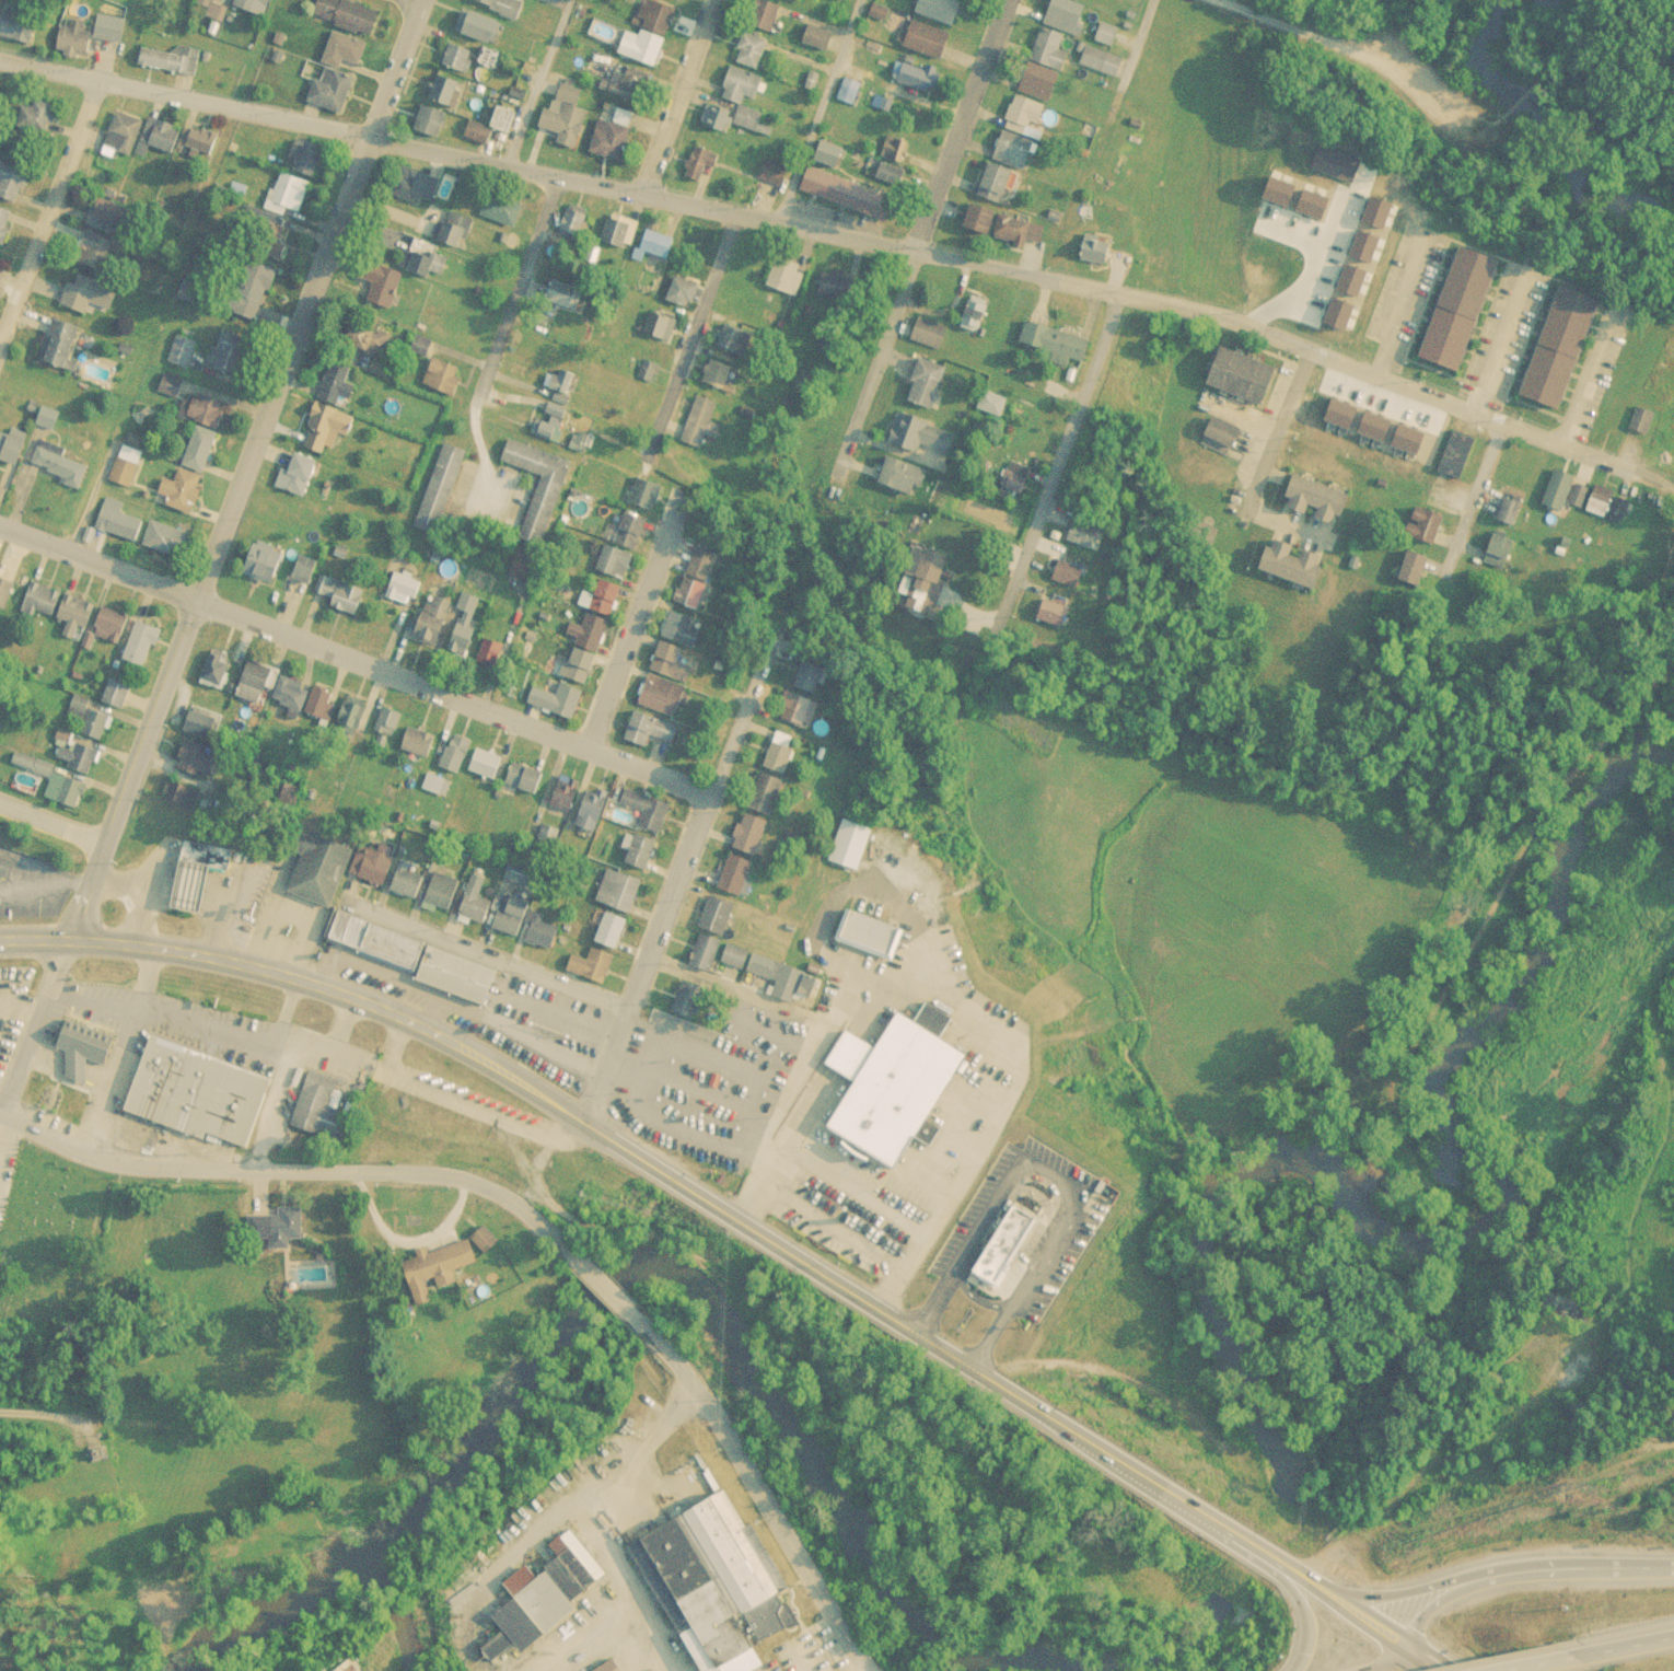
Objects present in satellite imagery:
road: (567, 0)
building: (671, 0)
building: (213, 4)
building: (249, 4)
building: (500, 5)
building: (938, 10)
building: (346, 14)
building: (764, 15)
building: (1063, 16)
road: (162, 21)
building: (19, 26)
building: (477, 27)
building: (648, 34)
building: (818, 38)
building: (74, 39)
building: (926, 40)
road: (1136, 42)
building: (342, 50)
building: (1047, 50)
road: (254, 51)
building: (751, 51)
building: (457, 59)
building: (170, 61)
building: (1101, 62)
building: (917, 76)
road: (121, 81)
road: (539, 81)
building: (627, 86)
building: (742, 86)
building: (330, 92)
building: (847, 92)
road: (905, 92)
building: (445, 93)
road: (673, 95)
building: (1031, 98)
building: (880, 105)
road: (821, 109)
building: (35, 117)
building: (565, 117)
building: (717, 118)
building: (748, 121)
building: (431, 124)
building: (490, 127)
building: (123, 135)
building: (158, 138)
building: (200, 141)
building: (608, 141)
building: (1011, 151)
building: (828, 156)
building: (306, 160)
building: (701, 164)
building: (1338, 166)
building: (772, 174)
building: (891, 176)
building: (993, 183)
building: (12, 185)
building: (286, 195)
building: (848, 197)
building: (500, 211)
building: (113, 214)
building: (980, 220)
road: (54, 221)
building: (265, 223)
building: (572, 224)
building: (4, 225)
building: (451, 230)
building: (1020, 231)
building: (619, 232)
road: (928, 239)
building: (1094, 251)
building: (94, 252)
building: (423, 260)
road: (951, 260)
building: (653, 262)
building: (784, 276)
building: (377, 283)
building: (838, 290)
building: (254, 292)
building: (683, 293)
building: (86, 294)
building: (562, 294)
building: (1460, 310)
road: (510, 318)
building: (656, 326)
building: (927, 334)
road: (691, 335)
building: (368, 337)
building: (733, 340)
road: (1504, 343)
building: (60, 345)
building: (1056, 345)
building: (1559, 348)
building: (181, 352)
building: (230, 355)
building: (646, 372)
building: (717, 375)
road: (1589, 375)
building: (1242, 376)
building: (442, 378)
building: (335, 384)
building: (565, 384)
building: (925, 384)
building: (990, 405)
building: (204, 411)
building: (550, 421)
building: (1640, 421)
building: (700, 423)
building: (327, 430)
building: (922, 437)
building: (1222, 437)
building: (11, 449)
building: (198, 450)
road: (1265, 453)
building: (1455, 455)
road: (1062, 456)
building: (58, 465)
building: (125, 466)
building: (297, 476)
building: (903, 478)
building: (1014, 480)
building: (439, 489)
building: (538, 489)
building: (1557, 491)
building: (181, 492)
building: (646, 496)
road: (1470, 496)
building: (1600, 500)
building: (1318, 501)
road: (1249, 507)
building: (1509, 512)
building: (116, 523)
building: (1426, 526)
building: (629, 533)
building: (1083, 536)
building: (166, 541)
building: (1500, 547)
road: (210, 553)
building: (261, 564)
building: (612, 564)
building: (1294, 566)
building: (525, 569)
building: (1413, 569)
building: (304, 570)
building: (1069, 576)
building: (695, 579)
building: (925, 582)
building: (402, 590)
building: (340, 595)
building: (604, 599)
building: (39, 601)
building: (1054, 614)
road: (637, 618)
building: (73, 620)
building: (433, 622)
building: (111, 626)
building: (463, 627)
building: (588, 631)
building: (682, 631)
building: (141, 646)
building: (491, 654)
road: (353, 661)
building: (671, 663)
building: (580, 666)
building: (216, 671)
building: (809, 680)
building: (255, 684)
building: (115, 694)
building: (290, 696)
building: (662, 696)
building: (556, 700)
building: (800, 711)
building: (352, 717)
building: (91, 721)
building: (387, 722)
building: (195, 724)
building: (648, 730)
building: (417, 744)
building: (454, 754)
building: (79, 758)
building: (779, 759)
building: (197, 762)
building: (485, 764)
building: (525, 780)
building: (66, 792)
building: (181, 796)
building: (765, 796)
building: (565, 797)
building: (647, 811)
building: (591, 813)
road: (50, 820)
building: (748, 835)
building: (849, 845)
building: (640, 852)
building: (374, 868)
building: (4, 869)
building: (318, 871)
building: (197, 877)
building: (734, 877)
building: (406, 881)
building: (617, 892)
building: (441, 893)
road: (670, 894)
building: (474, 903)
building: (509, 917)
building: (716, 917)
building: (609, 932)
building: (542, 936)
building: (870, 938)
building: (704, 954)
building: (416, 960)
building: (590, 967)
building: (774, 977)
road: (306, 982)
road: (735, 989)
building: (719, 1046)
building: (86, 1049)
building: (198, 1094)
building: (325, 1103)
road: (783, 1123)
road: (232, 1170)
road: (526, 1210)
building: (278, 1228)
building: (485, 1240)
building: (1000, 1251)
building: (435, 1272)
road: (603, 1285)
road: (1015, 1396)
road: (46, 1415)
building: (96, 1457)
road: (759, 1489)
road: (607, 1521)
road: (1524, 1573)
building: (717, 1586)
building: (545, 1598)
road: (592, 1636)
road: (1635, 1644)
road: (1345, 1651)
road: (1553, 1661)
road: (865, 1670)

